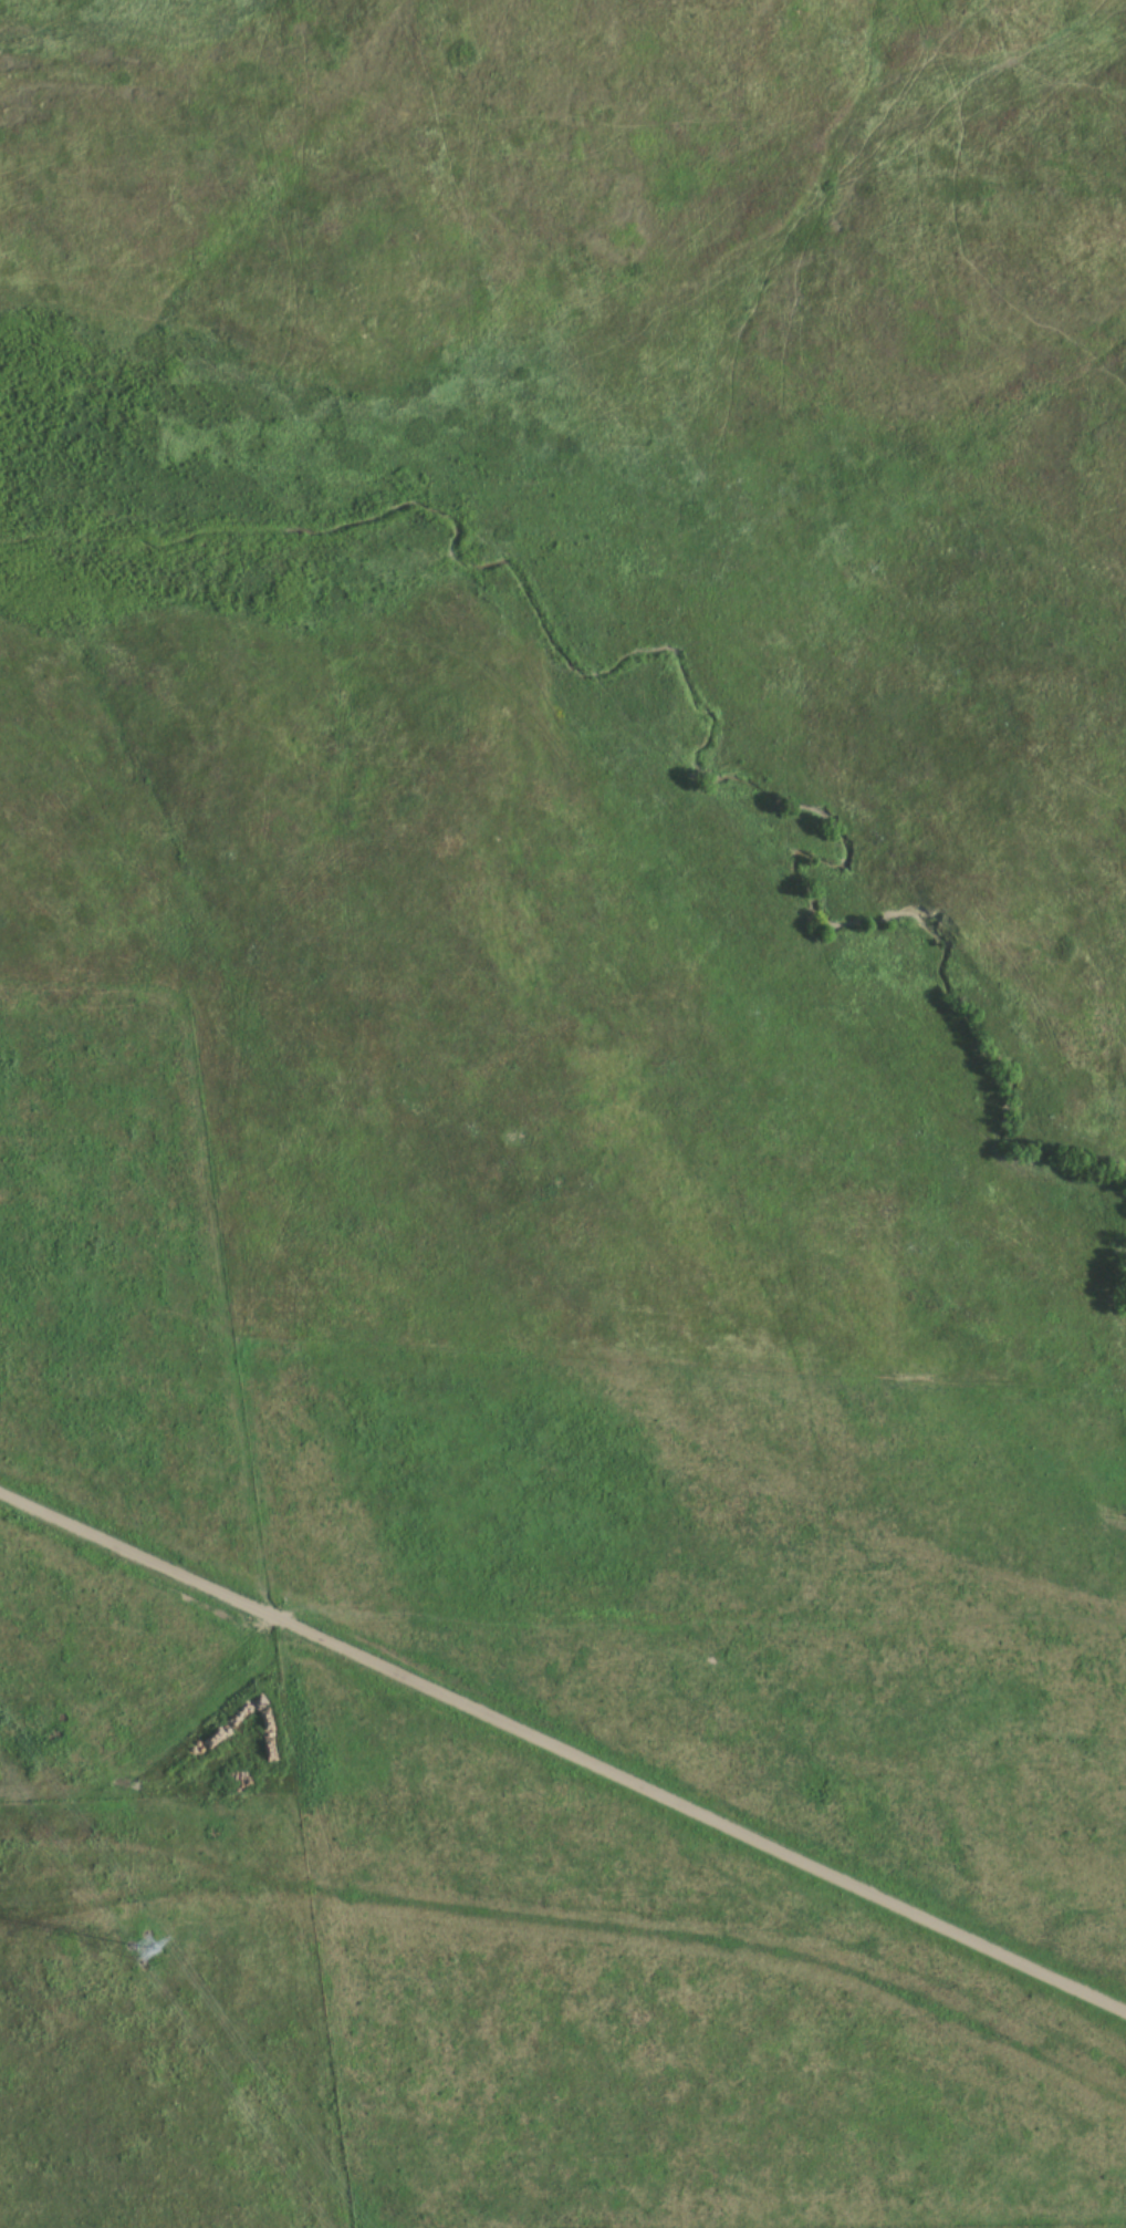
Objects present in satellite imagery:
road: (563, 1749)
power tower: (142, 1948)

